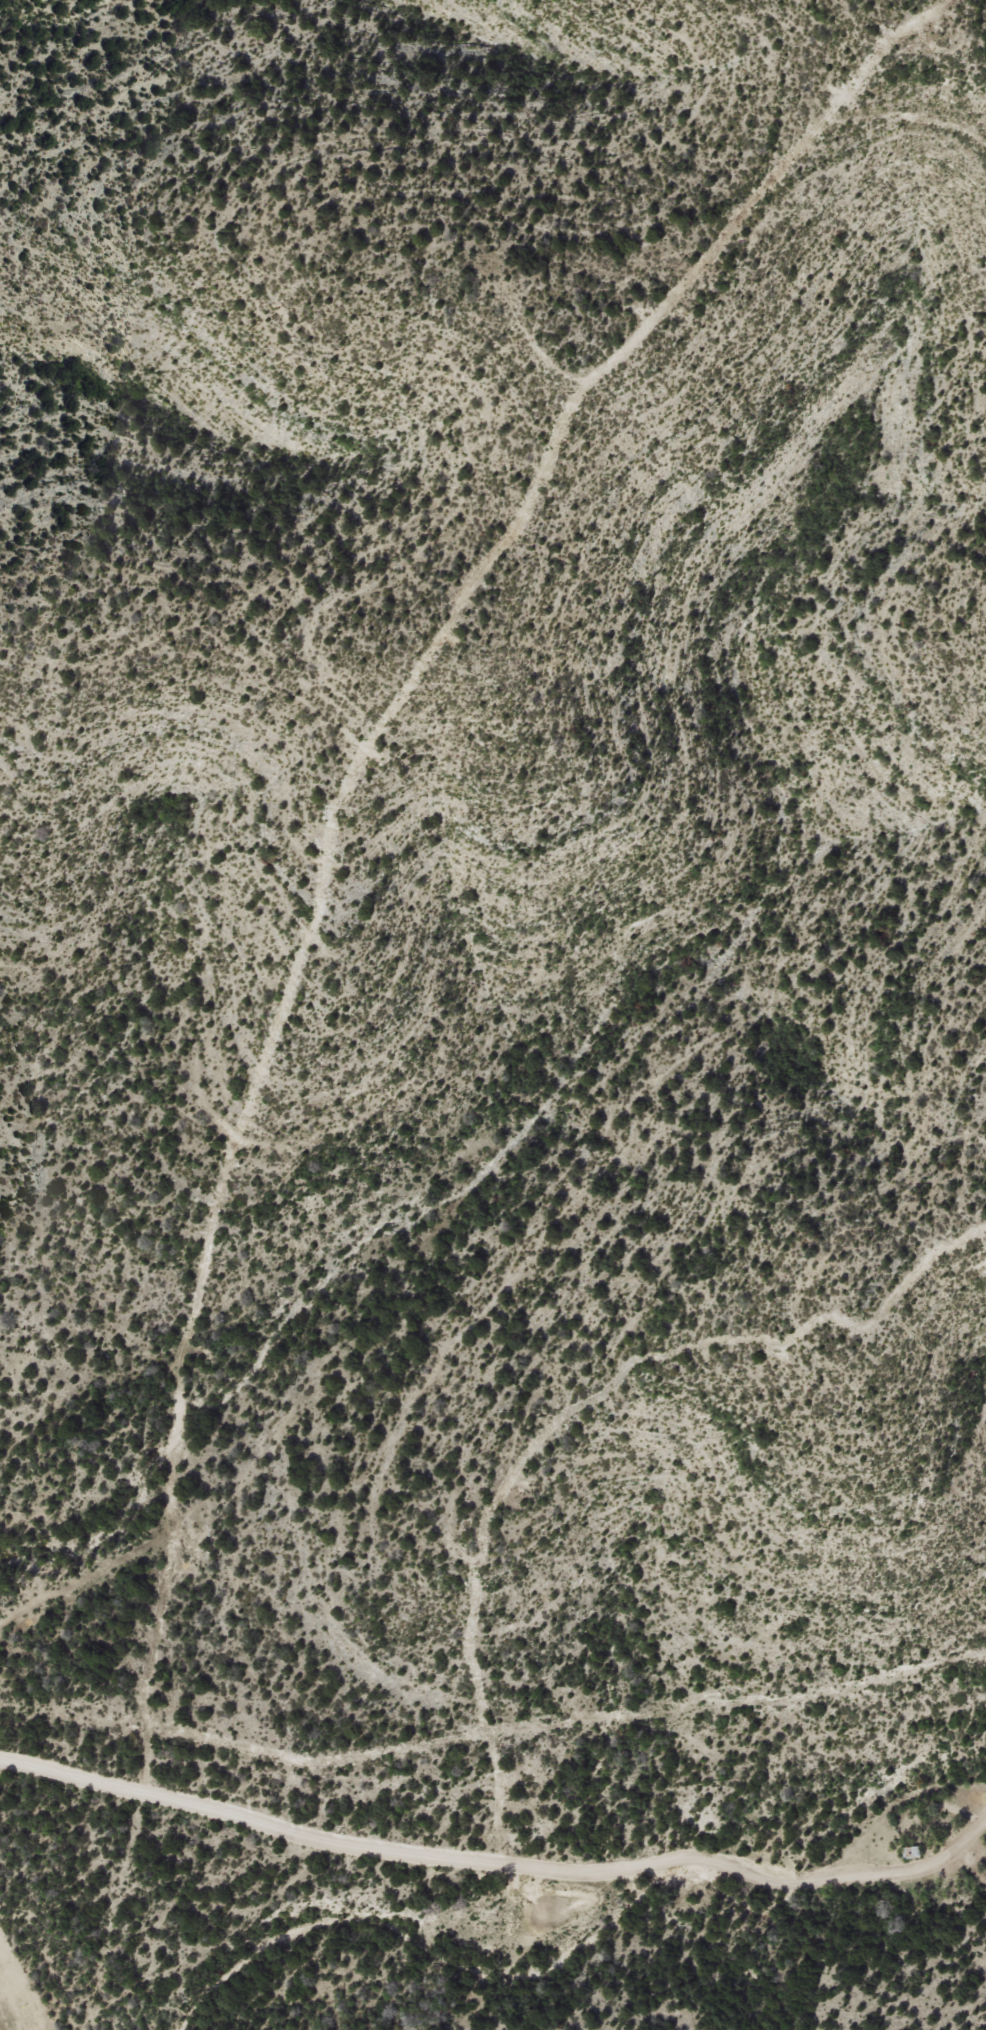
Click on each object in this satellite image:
road: (501, 1858)

